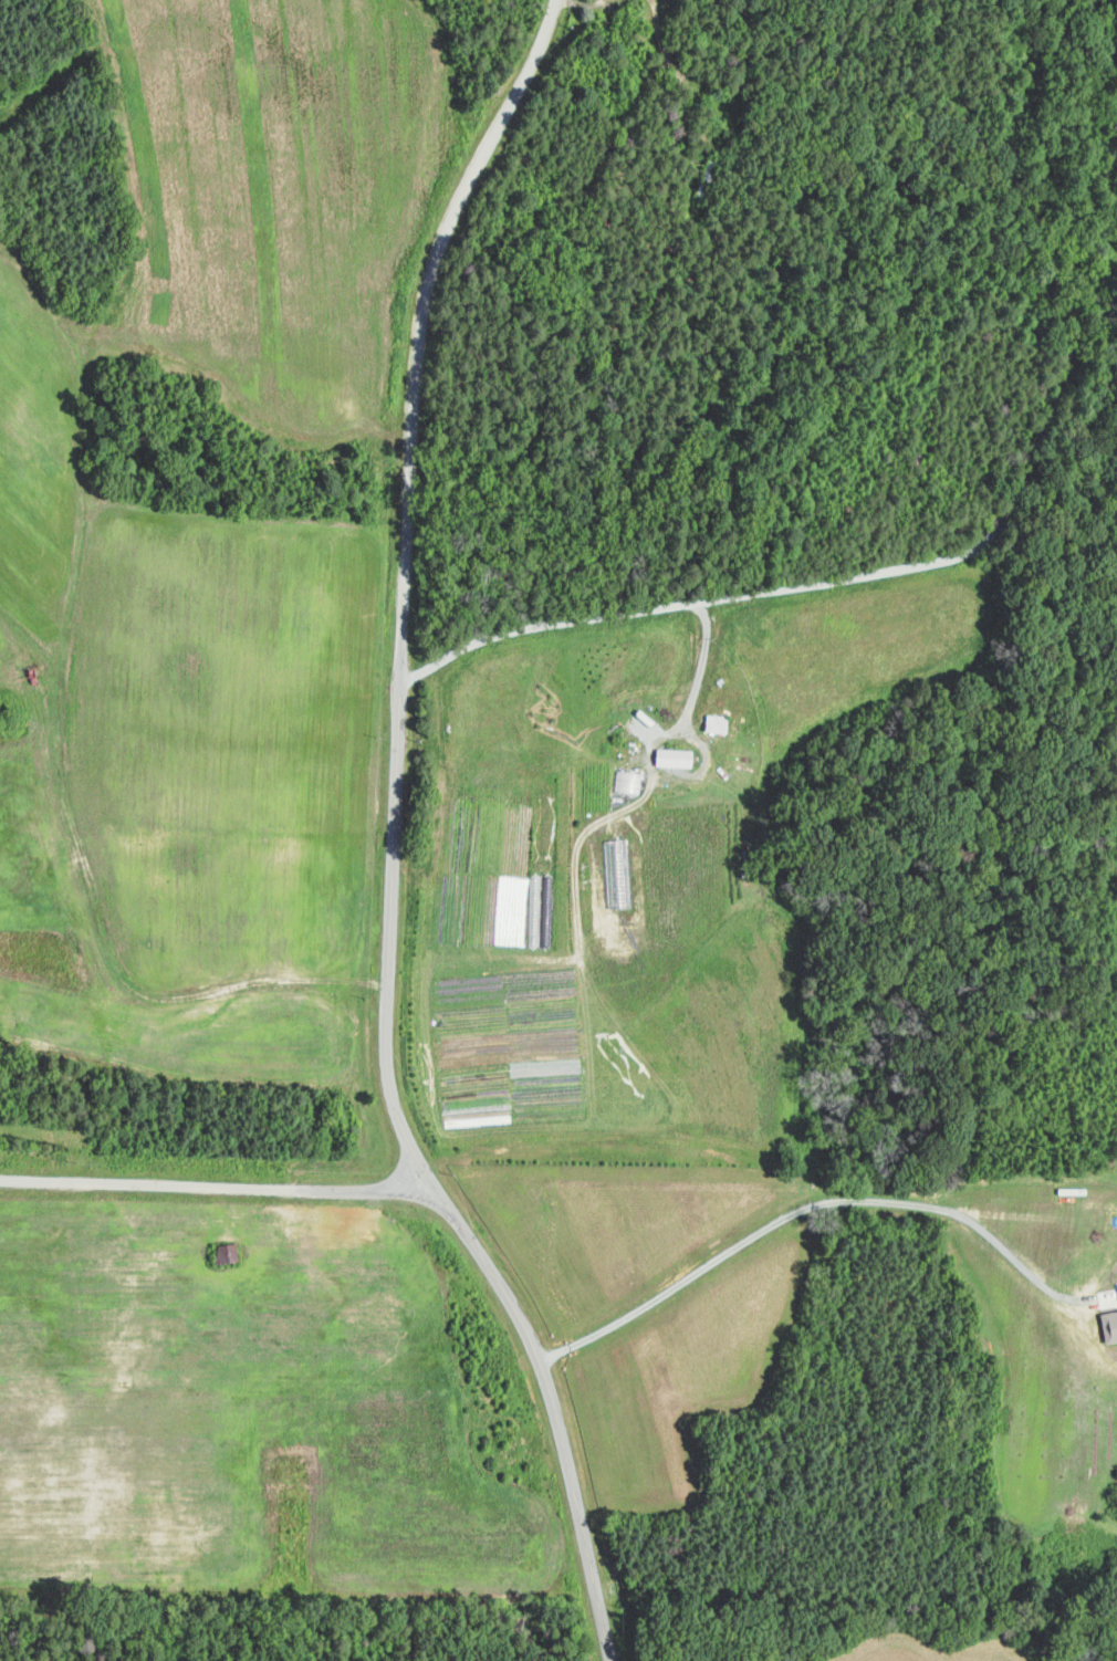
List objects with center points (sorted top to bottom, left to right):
road: (889, 570)
road: (701, 664)
building: (714, 720)
building: (672, 754)
building: (624, 777)
road: (392, 839)
road: (220, 1188)
road: (797, 1204)
building: (231, 1252)
building: (1116, 1284)
building: (1116, 1291)
building: (1107, 1320)

